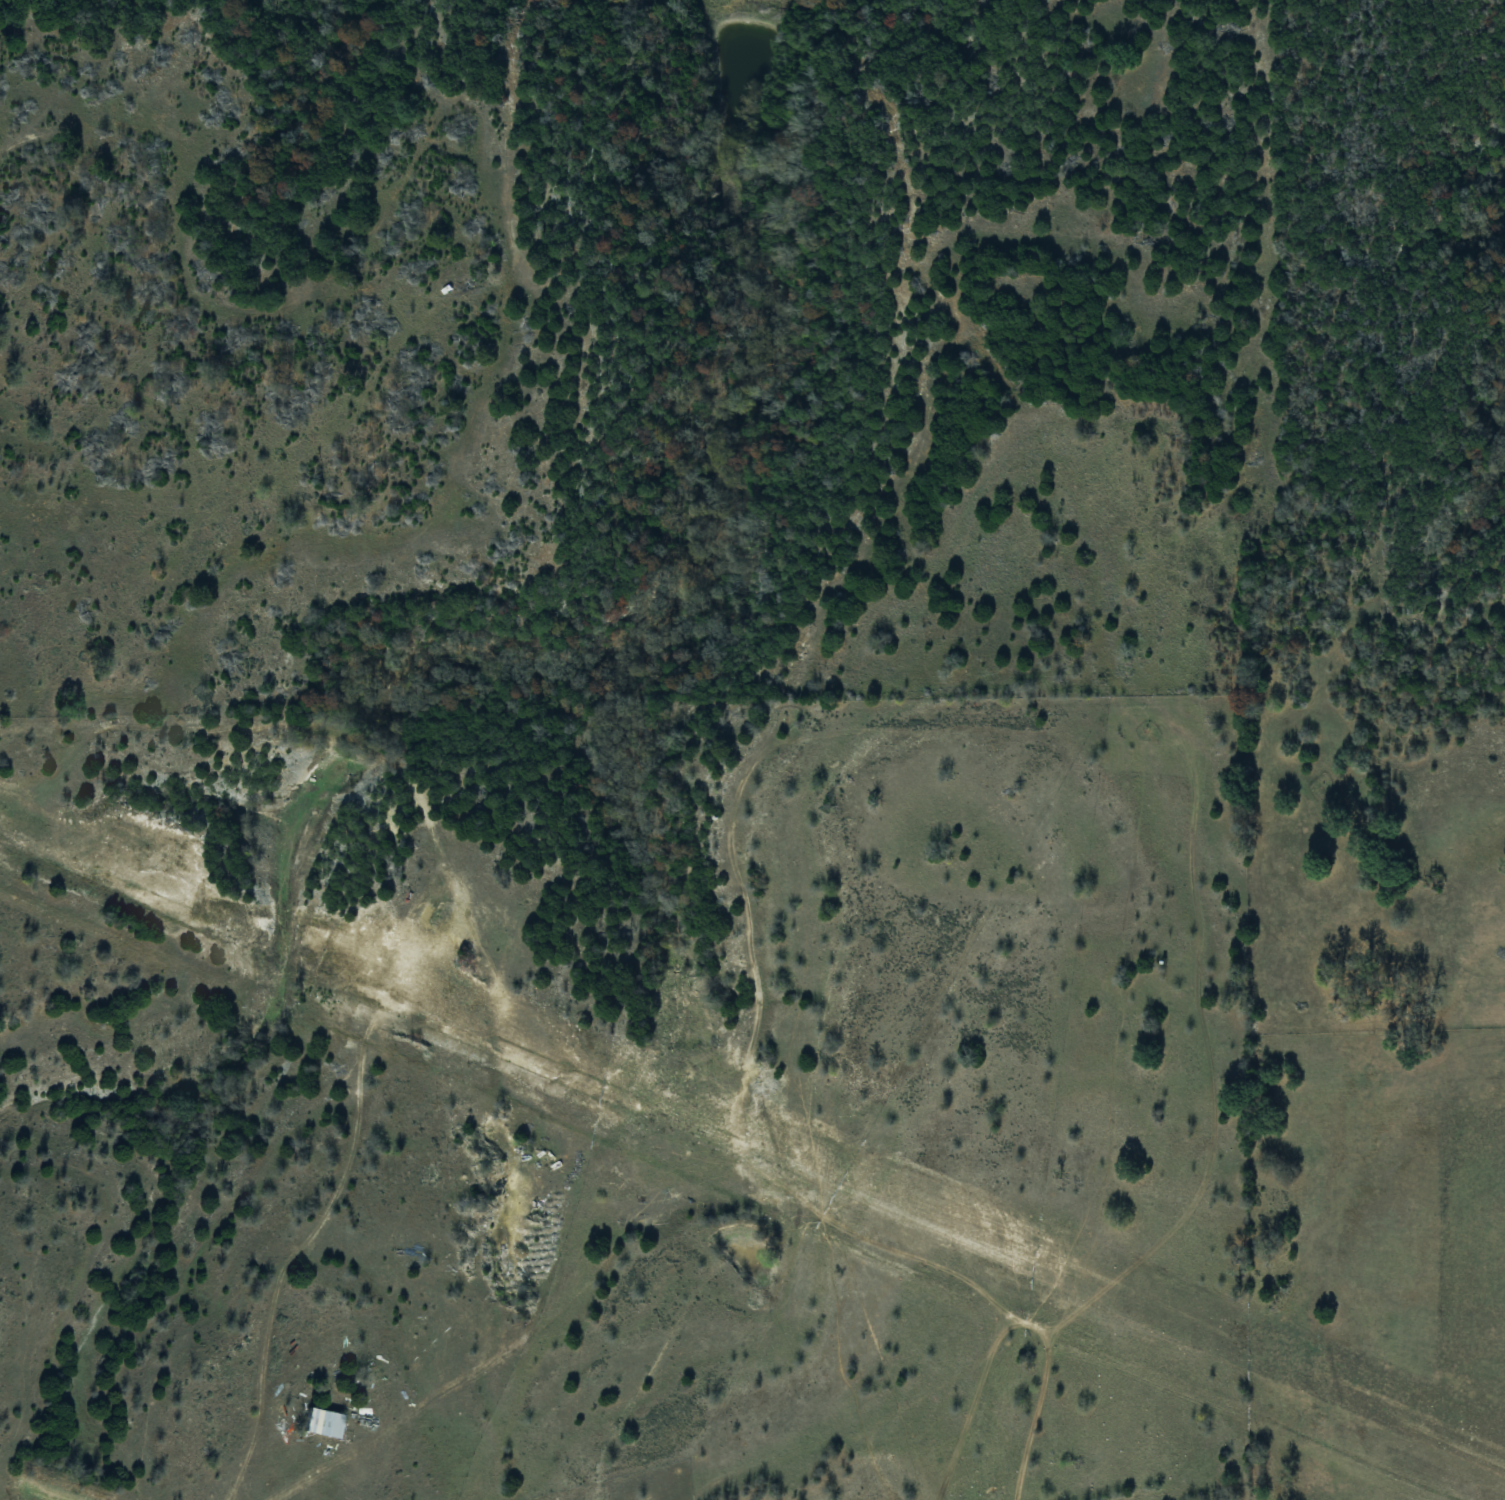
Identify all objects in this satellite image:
building: (323, 1422)

